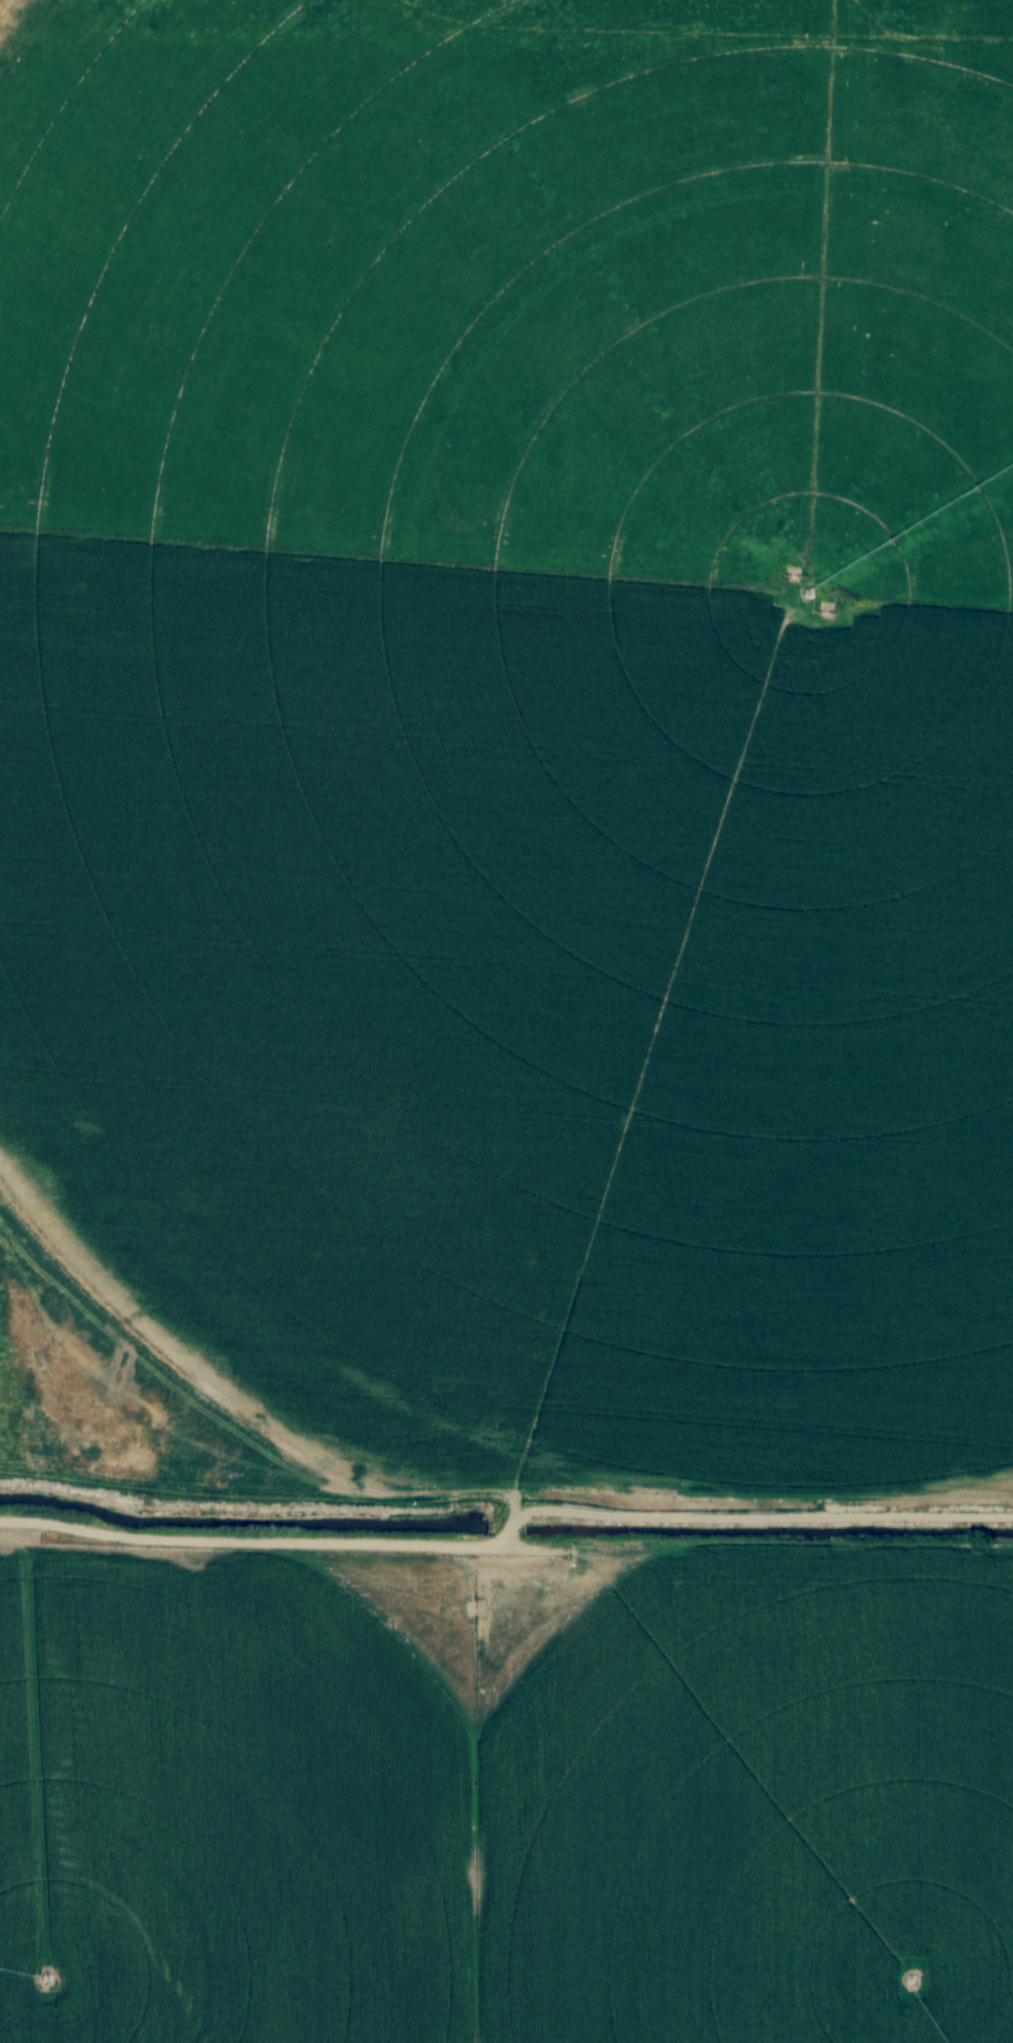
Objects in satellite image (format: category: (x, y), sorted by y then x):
crop: (523, 720)
road: (508, 1534)

